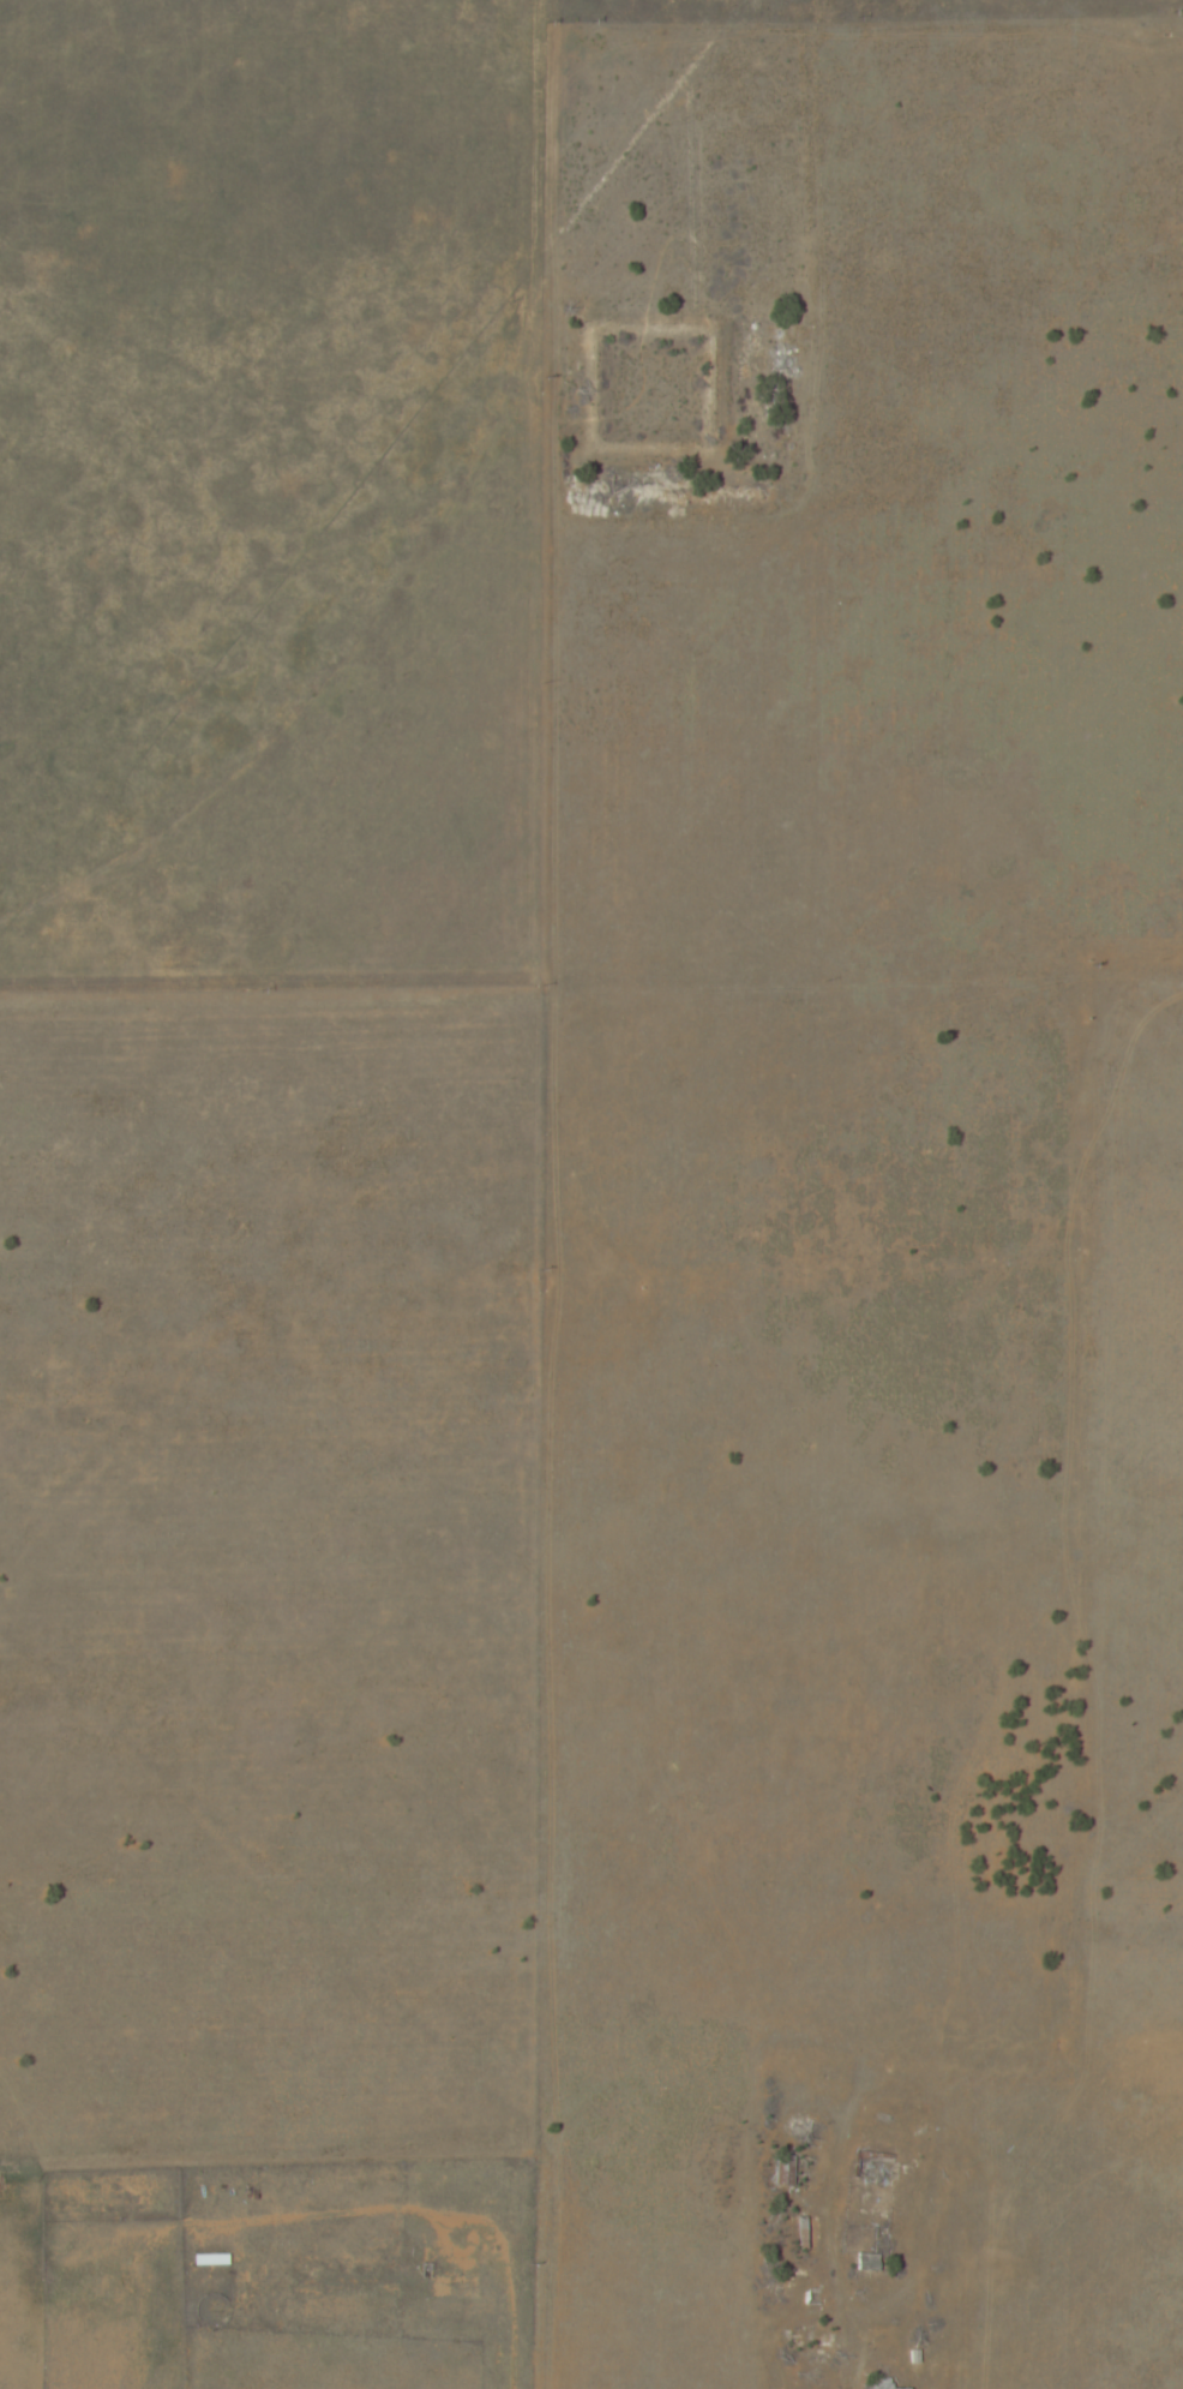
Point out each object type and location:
road: (842, 2305)

